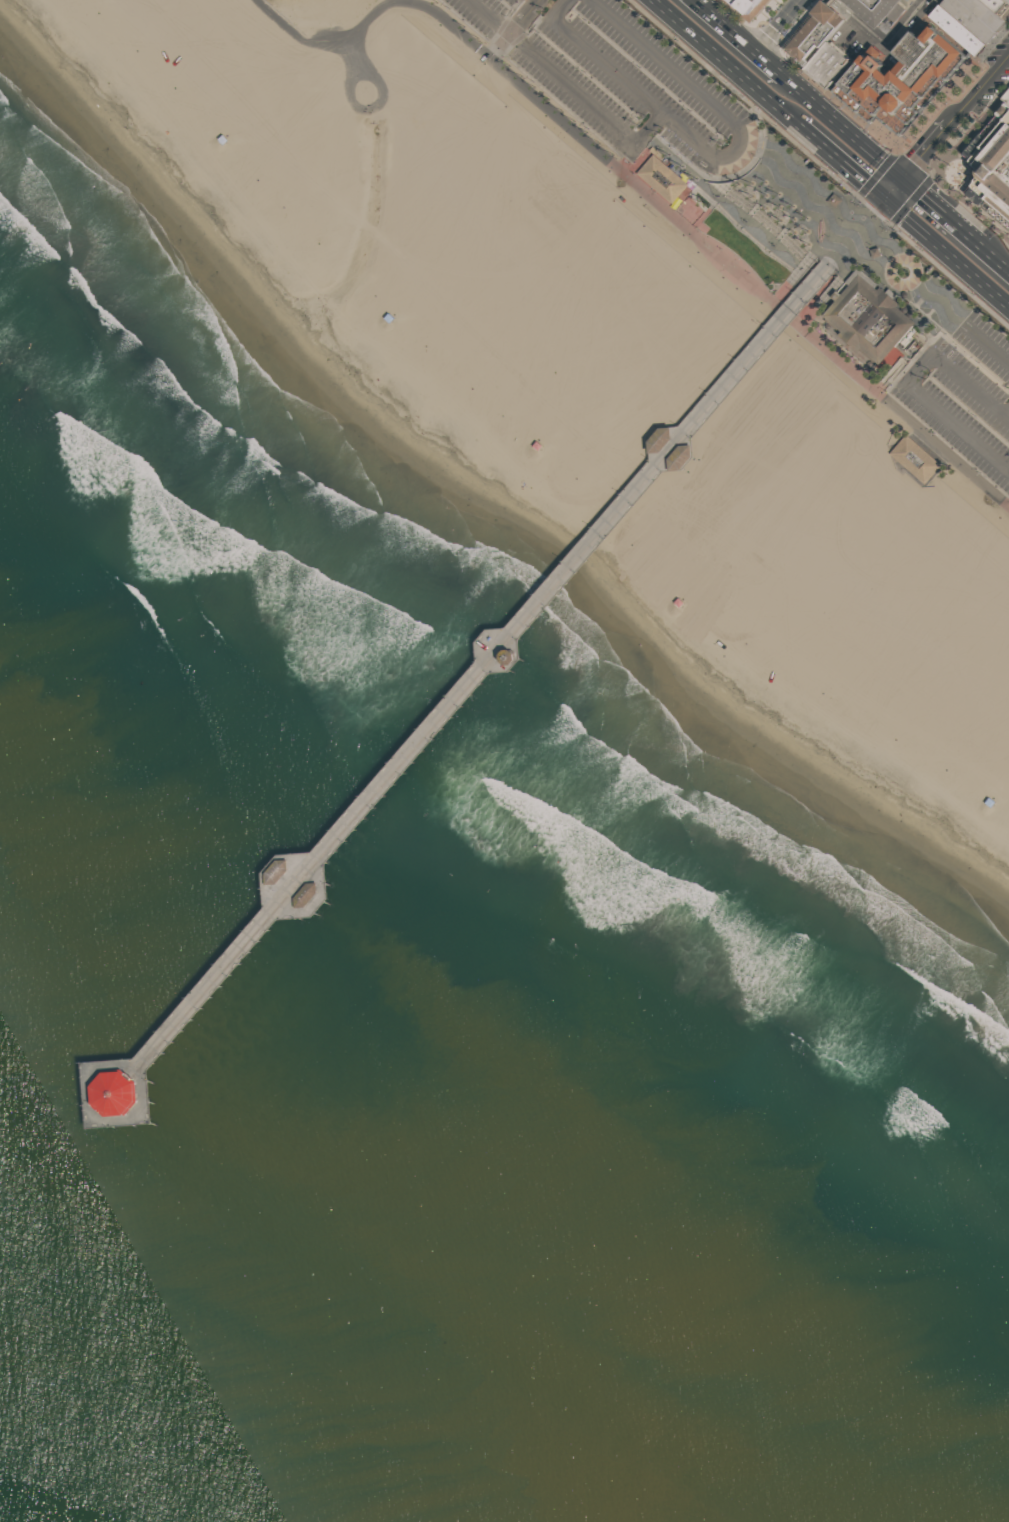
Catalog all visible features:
building: (749, 6)
building: (1001, 6)
building: (873, 9)
building: (990, 12)
road: (524, 16)
building: (974, 18)
road: (780, 25)
building: (962, 28)
road: (948, 34)
road: (743, 35)
building: (814, 37)
road: (882, 41)
road: (500, 45)
road: (355, 56)
road: (600, 59)
road: (725, 61)
building: (832, 62)
road: (853, 64)
parking lot: (623, 79)
building: (903, 79)
building: (837, 80)
road: (570, 85)
road: (978, 90)
building: (1007, 96)
road: (713, 102)
road: (373, 104)
road: (845, 123)
building: (238, 127)
road: (925, 150)
road: (840, 160)
building: (993, 168)
traffic signals: (904, 175)
road: (829, 178)
building: (663, 179)
road: (894, 186)
road: (643, 189)
traffic signals: (884, 198)
building: (833, 200)
road: (726, 202)
road: (942, 208)
road: (853, 236)
road: (946, 252)
road: (994, 254)
road: (833, 259)
flagpole: (771, 285)
flagpole: (777, 285)
flagpole: (771, 291)
building: (409, 294)
building: (873, 319)
road: (983, 341)
road: (896, 370)
road: (888, 372)
road: (888, 379)
road: (909, 381)
parking lot: (962, 382)
road: (1008, 414)
building: (550, 432)
building: (661, 439)
building: (915, 459)
building: (702, 572)
building: (509, 656)
building: (991, 786)
building: (280, 871)
building: (310, 895)
building: (121, 1093)
road: (100, 1129)

